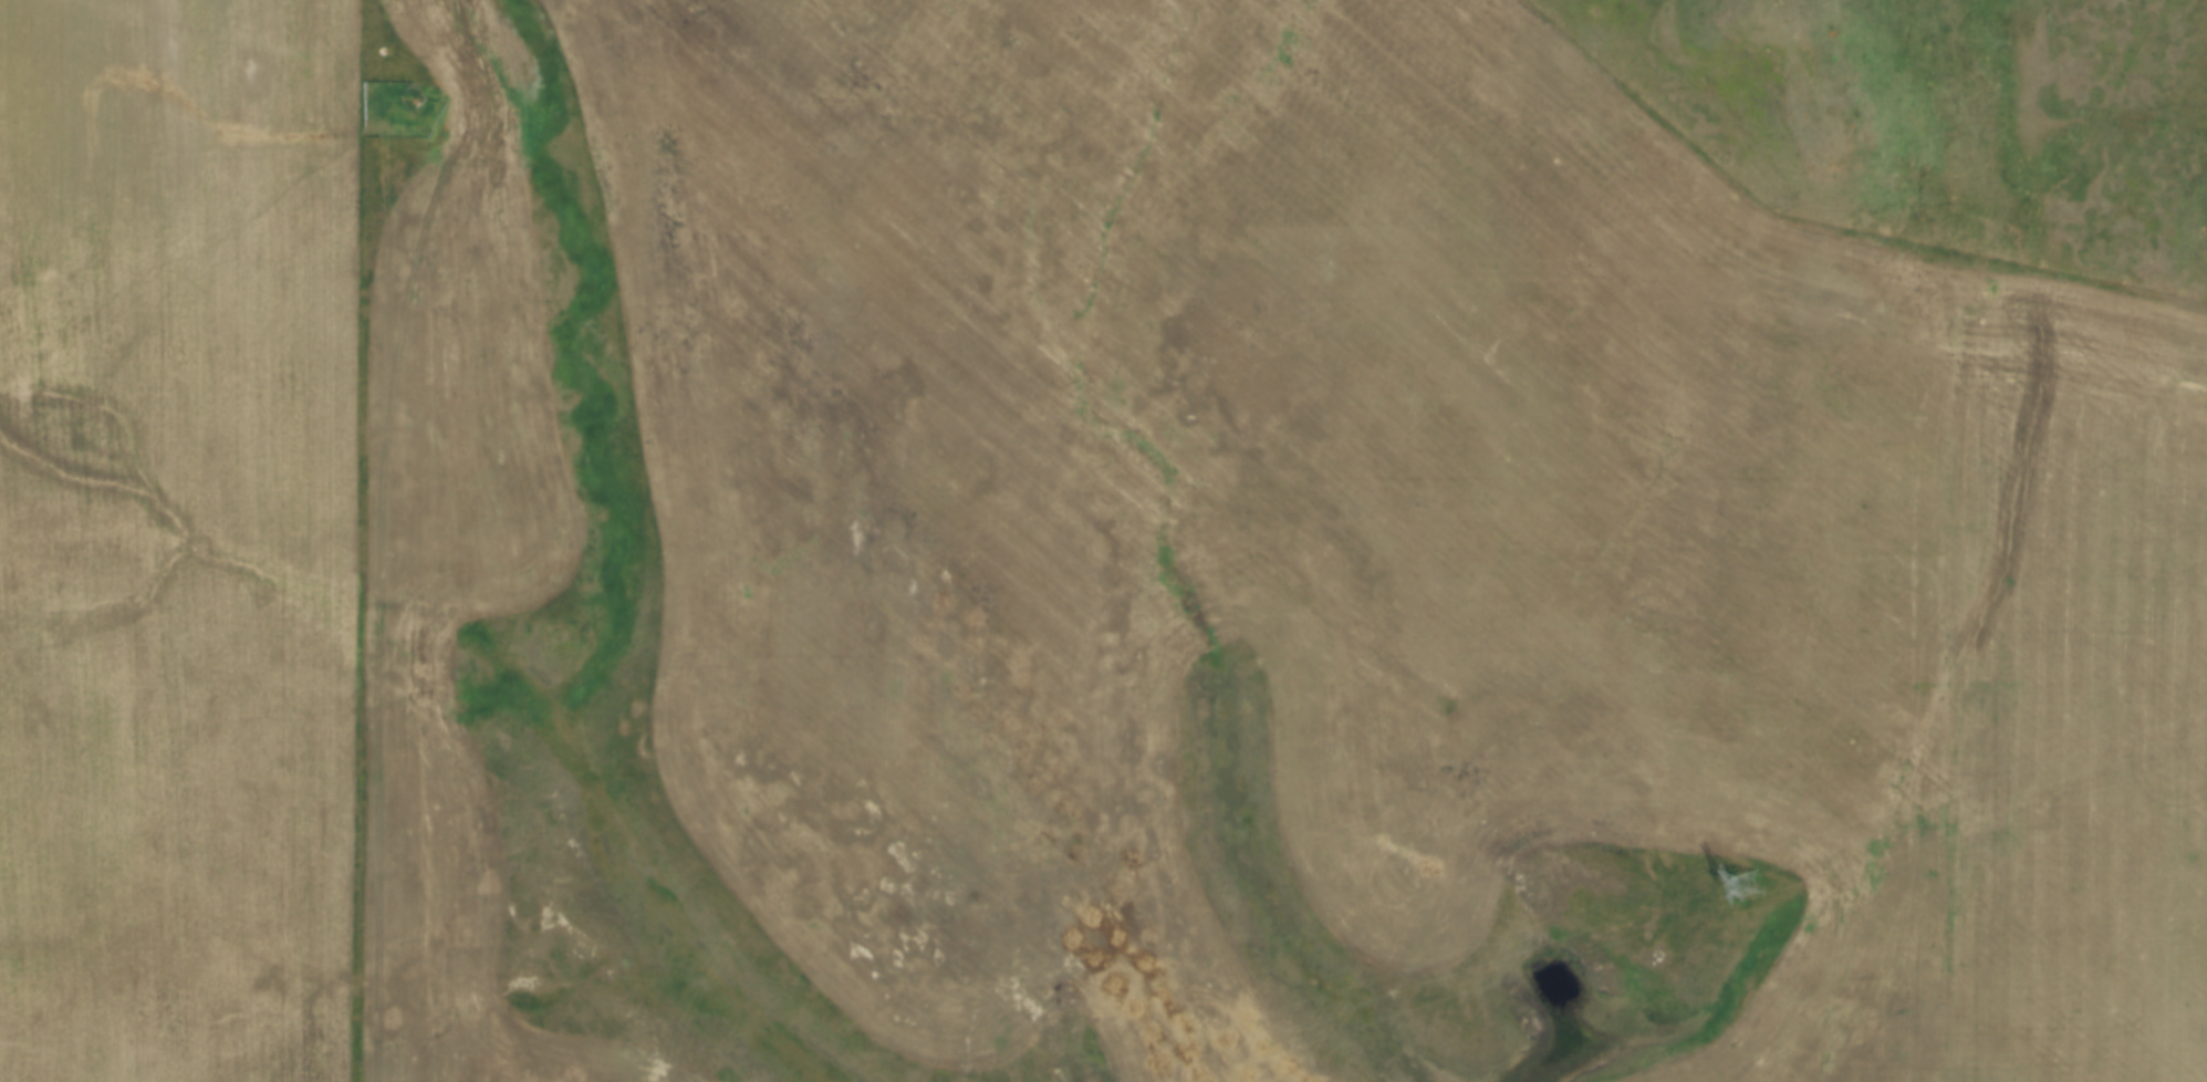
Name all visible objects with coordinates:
power tower: (1757, 884)

